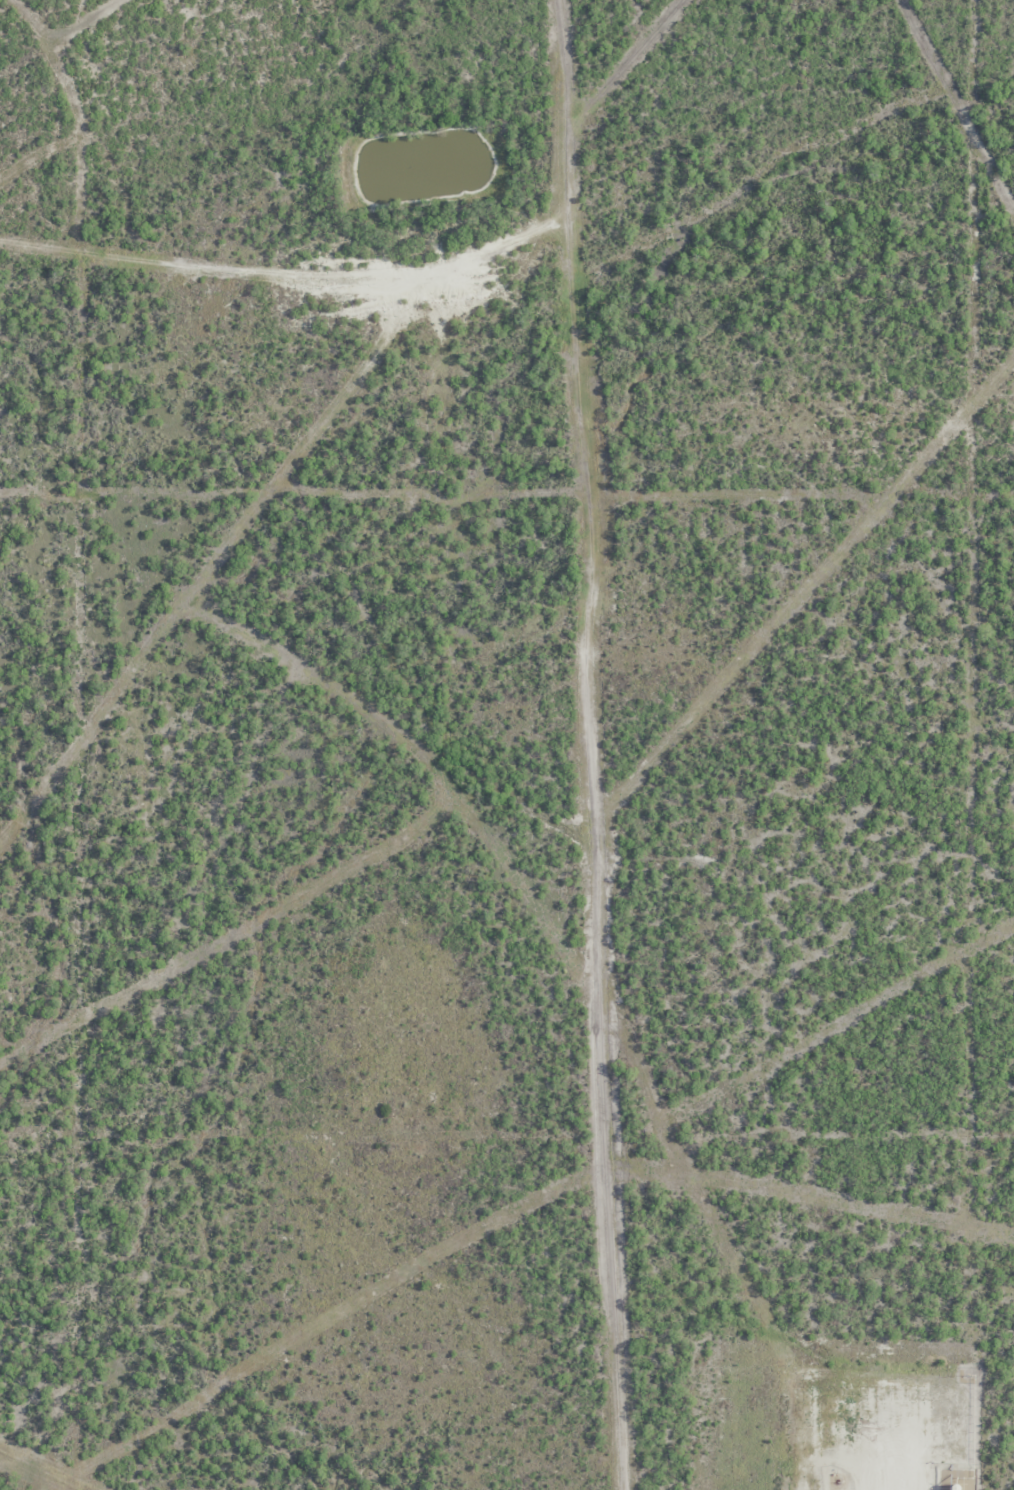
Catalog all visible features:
petroleum well: (836, 1479)

